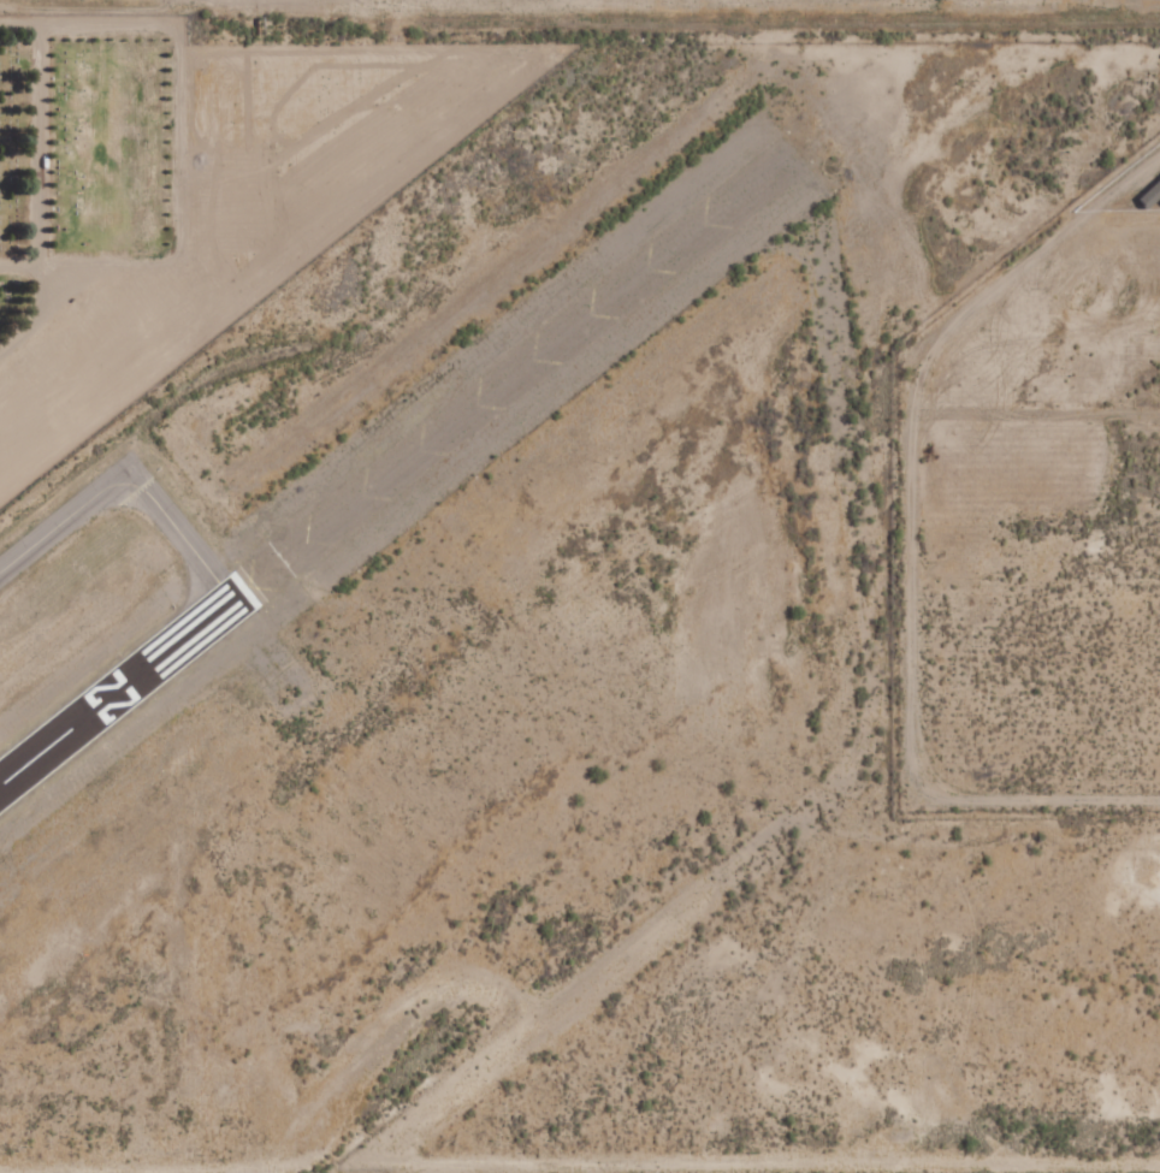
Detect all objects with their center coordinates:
road: (16, 22)
park: (82, 152)
airport taxiway: (125, 484)
airport runway: (112, 691)

